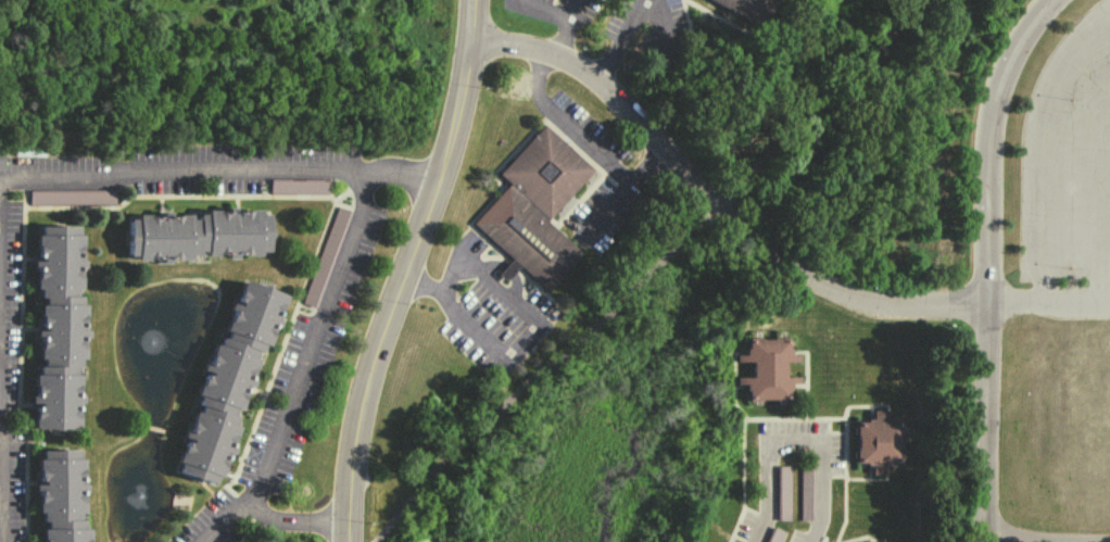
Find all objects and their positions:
road: (537, 9)
building: (748, 9)
road: (563, 28)
road: (620, 41)
road: (1045, 157)
building: (1, 160)
road: (400, 174)
road: (1095, 176)
building: (299, 186)
building: (72, 196)
road: (362, 198)
road: (715, 203)
building: (533, 206)
building: (199, 234)
road: (986, 260)
road: (411, 270)
road: (649, 275)
road: (1047, 306)
building: (60, 327)
road: (519, 339)
building: (229, 381)
building: (879, 441)
road: (795, 445)
road: (5, 479)
building: (64, 495)
road: (297, 528)
road: (1048, 538)
road: (987, 539)

